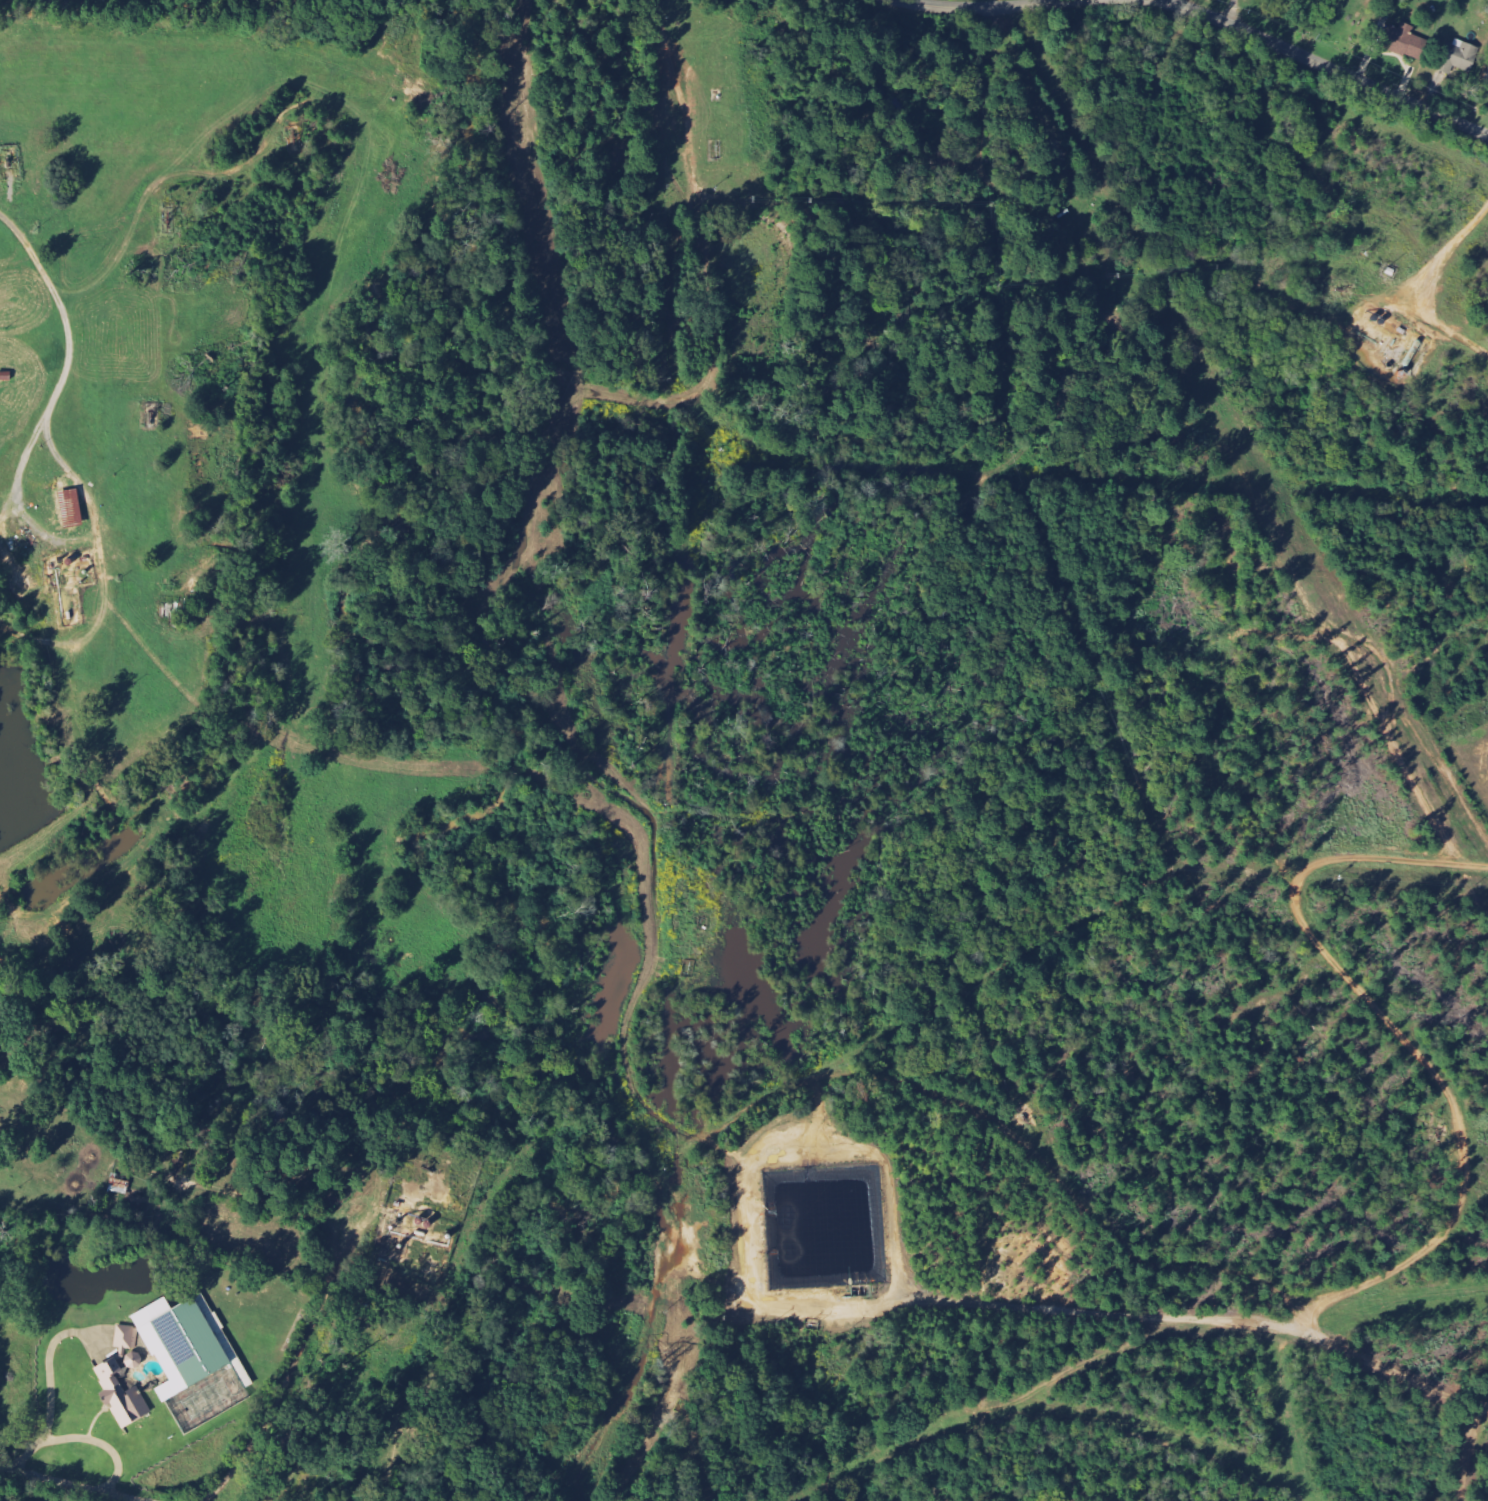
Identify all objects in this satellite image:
road: (986, 7)
building: (1405, 42)
building: (1460, 56)
road: (1319, 65)
building: (1485, 85)
road: (145, 196)
road: (814, 233)
road: (1073, 252)
road: (1420, 294)
road: (70, 356)
road: (2, 501)
building: (72, 508)
road: (2, 509)
road: (96, 521)
road: (506, 575)
road: (94, 627)
road: (704, 814)
road: (1253, 819)
road: (98, 878)
road: (745, 1166)
building: (119, 1184)
road: (1337, 1293)
road: (1196, 1319)
road: (1305, 1323)
road: (308, 1327)
building: (127, 1339)
building: (183, 1345)
building: (135, 1361)
building: (122, 1396)
road: (1483, 1406)
road: (1468, 1453)
road: (66, 1482)
road: (134, 1500)

